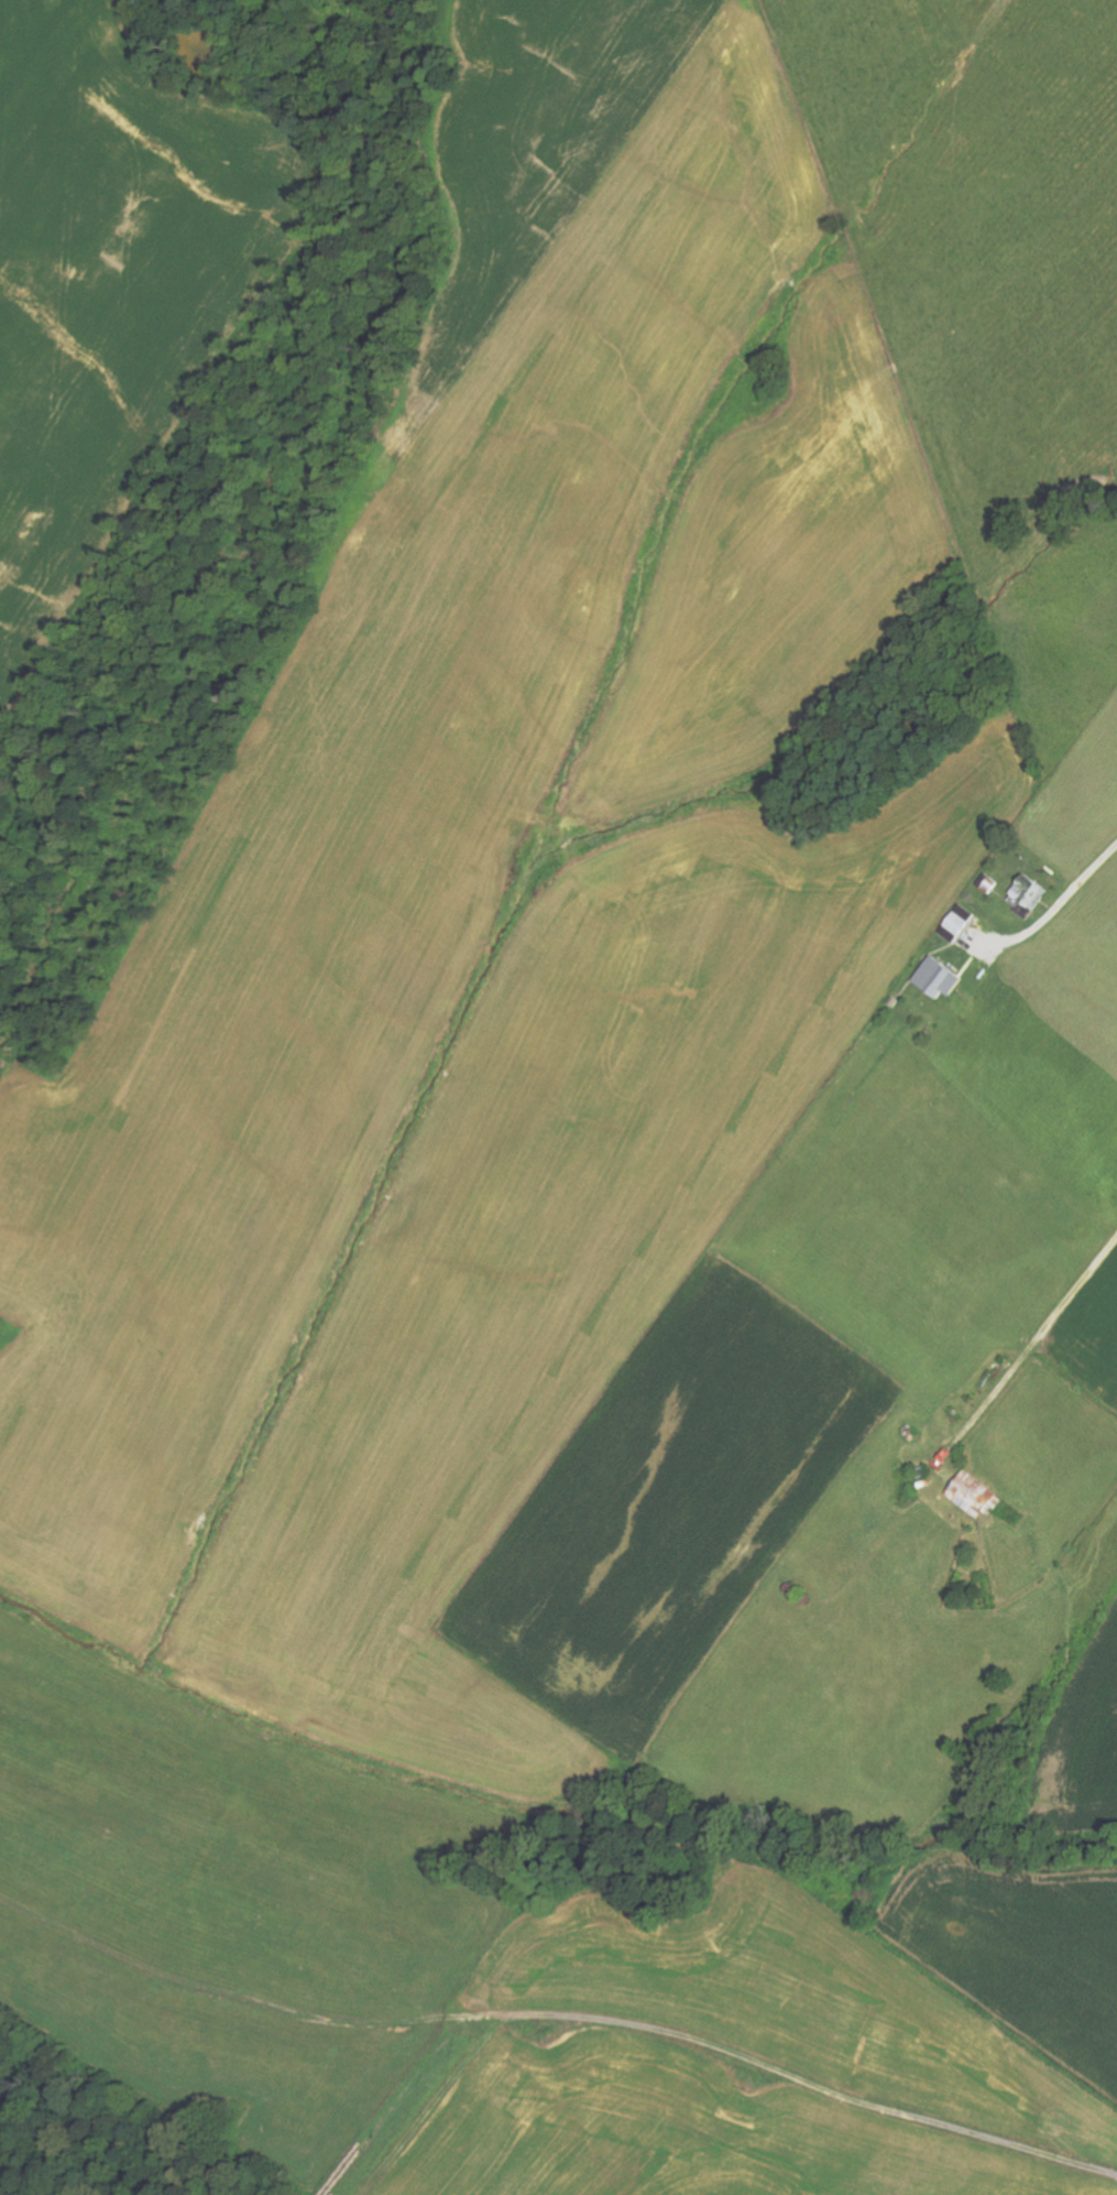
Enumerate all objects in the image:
building: (1026, 895)
building: (1040, 898)
road: (1061, 904)
building: (961, 924)
building: (941, 979)
road: (1042, 1336)
building: (977, 1496)
road: (560, 2019)
road: (424, 2106)

